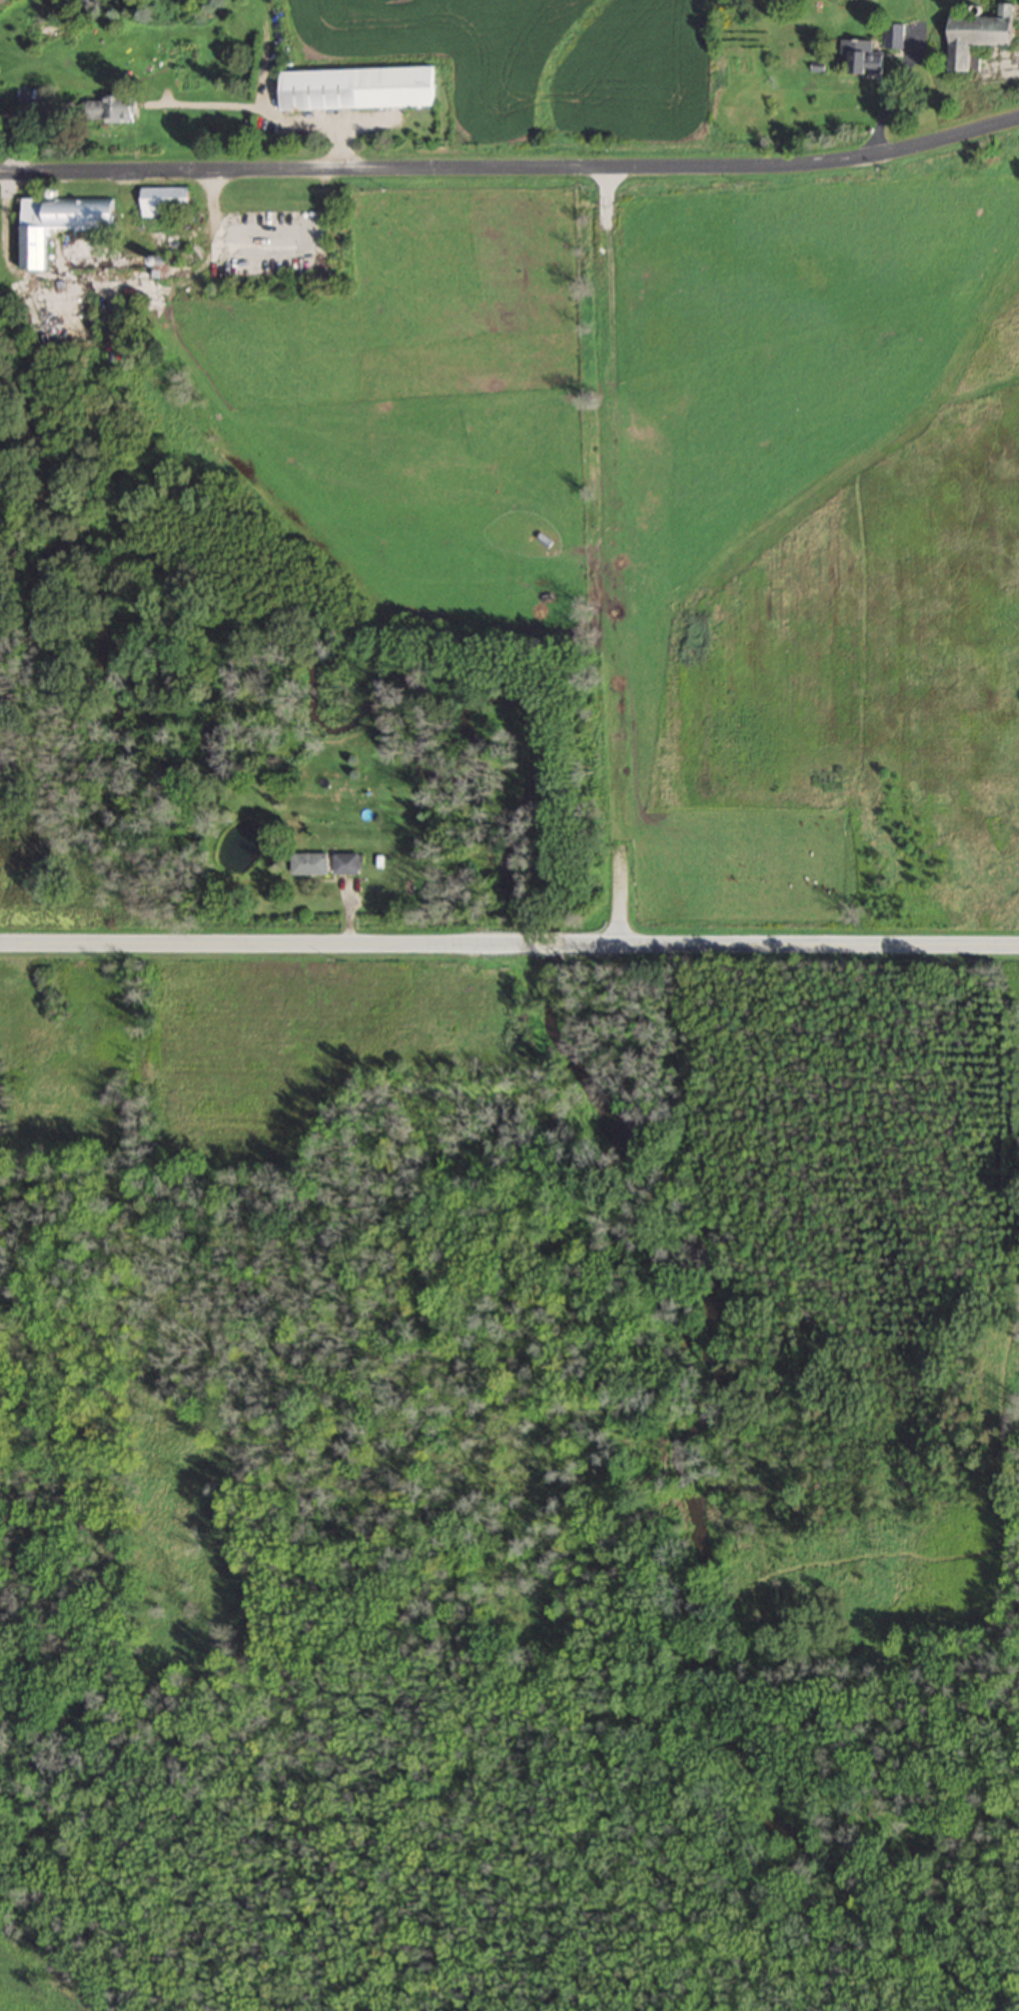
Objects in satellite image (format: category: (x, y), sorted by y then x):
building: (983, 33)
building: (866, 56)
building: (358, 86)
building: (111, 107)
road: (512, 166)
building: (163, 197)
building: (63, 222)
road: (608, 554)
building: (310, 861)
building: (348, 861)
road: (546, 942)
road: (266, 943)
road: (788, 943)

